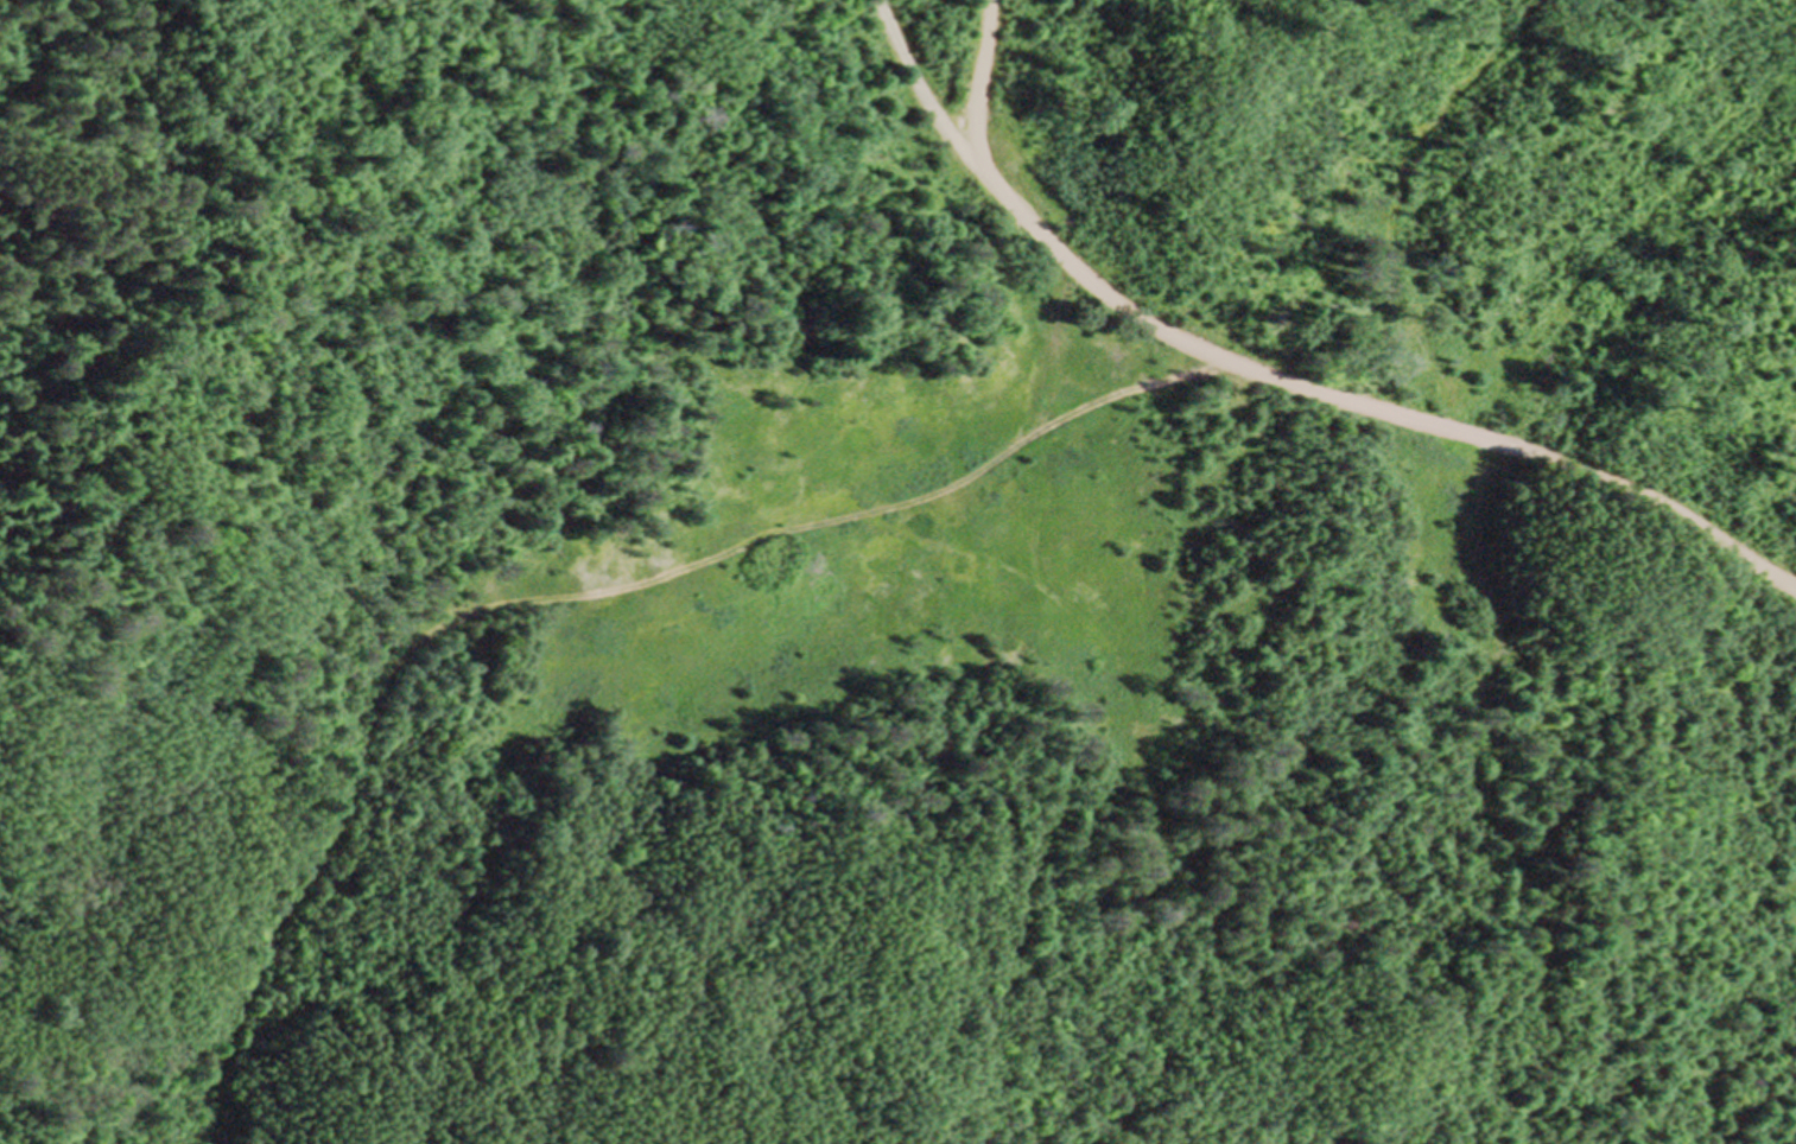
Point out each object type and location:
road: (982, 72)
road: (1274, 377)
road: (566, 597)

